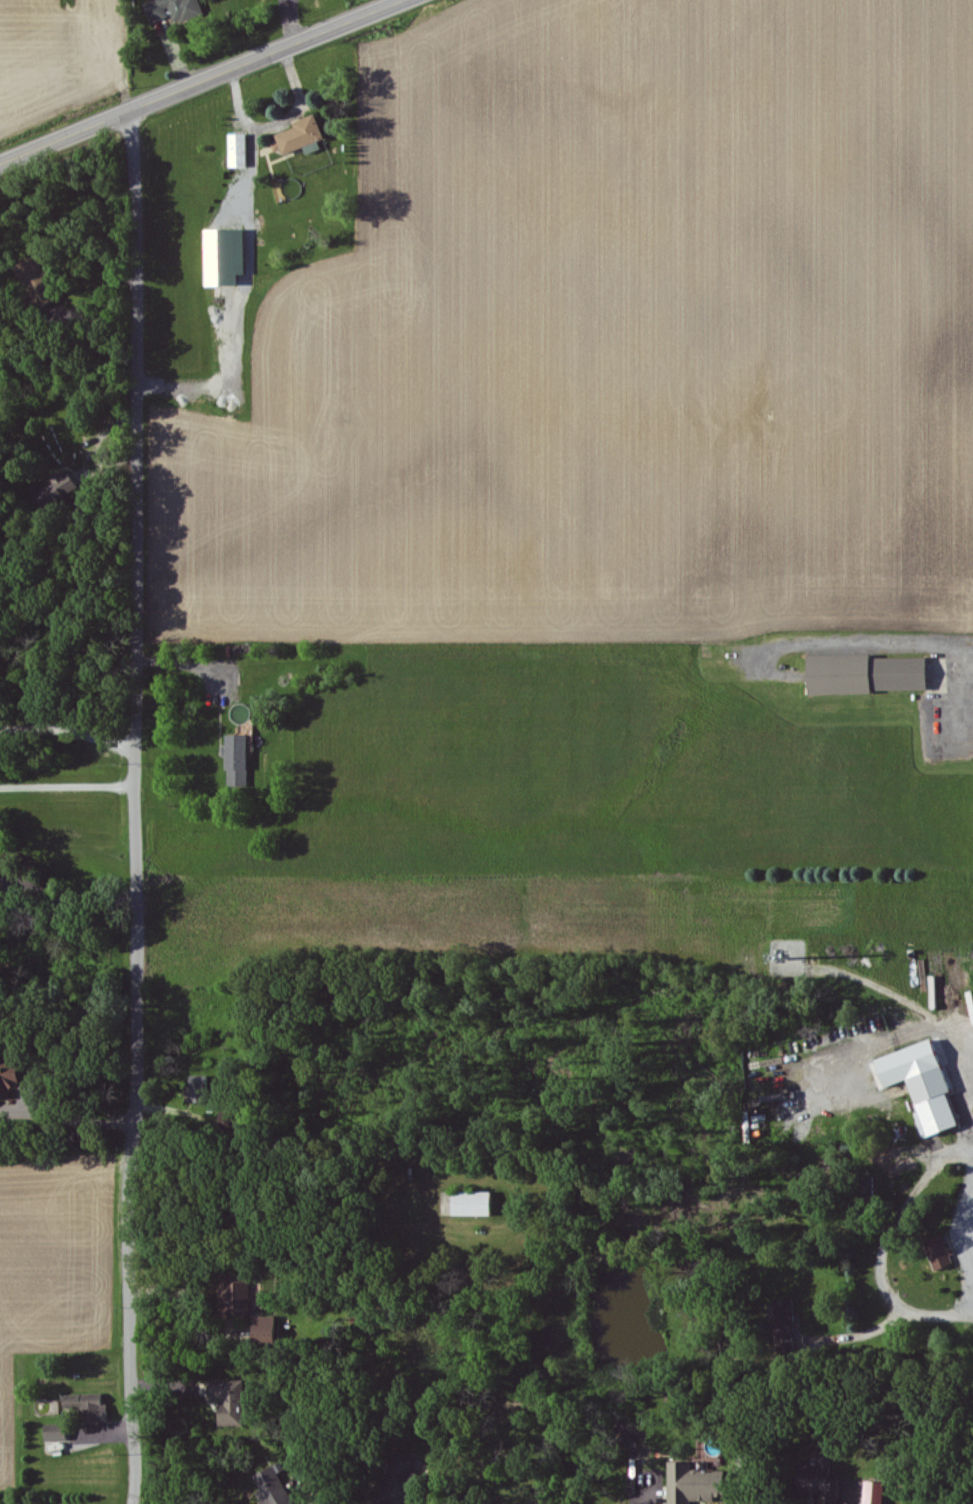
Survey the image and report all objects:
building: (179, 11)
road: (199, 81)
road: (304, 102)
building: (308, 138)
building: (243, 153)
building: (232, 259)
road: (254, 276)
building: (43, 286)
building: (63, 492)
road: (886, 646)
road: (183, 664)
building: (875, 677)
road: (70, 731)
building: (242, 763)
road: (69, 786)
road: (139, 805)
road: (70, 902)
road: (968, 1035)
building: (9, 1083)
building: (931, 1085)
building: (204, 1090)
road: (76, 1122)
building: (479, 1205)
road: (885, 1242)
building: (944, 1255)
building: (243, 1295)
road: (969, 1298)
road: (179, 1308)
building: (791, 1322)
building: (271, 1331)
building: (235, 1402)
building: (93, 1408)
building: (62, 1433)
building: (827, 1480)
building: (405, 1484)
building: (702, 1485)
building: (279, 1487)
building: (881, 1494)
road: (367, 1495)

